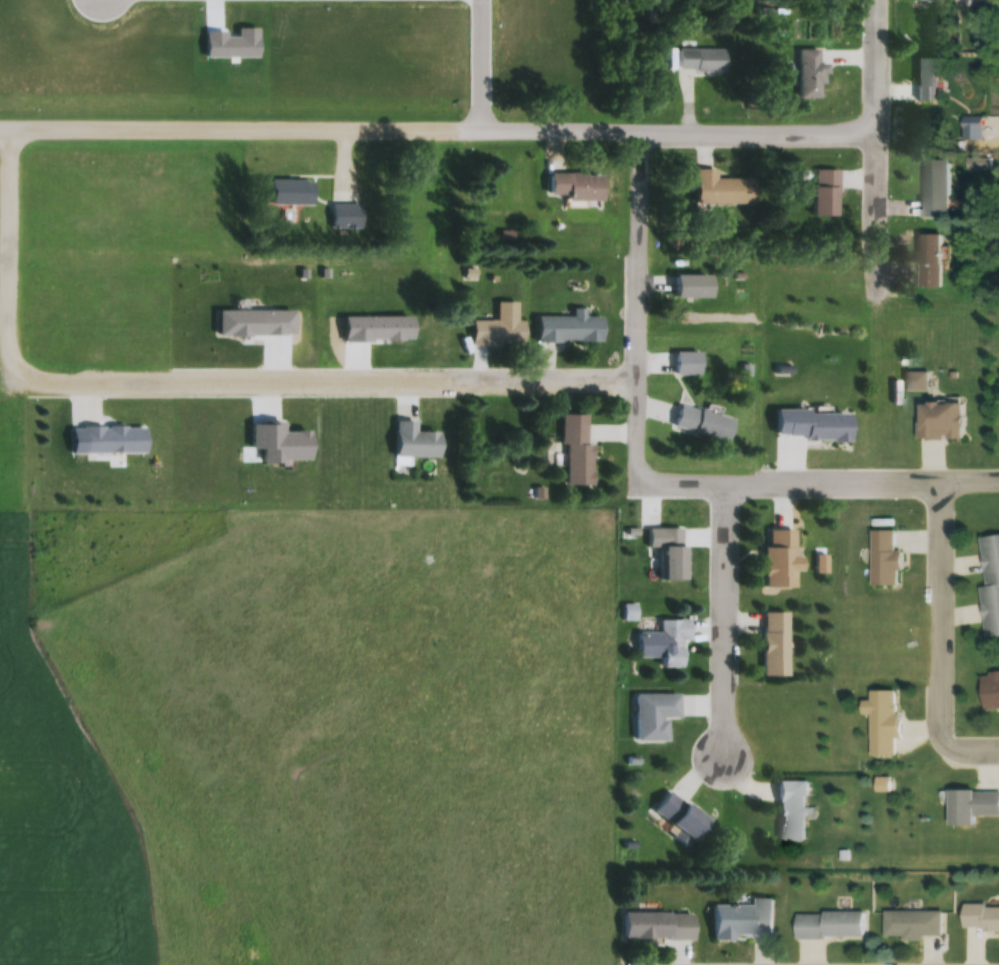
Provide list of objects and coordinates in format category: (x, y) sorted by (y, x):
building: (928, 1)
building: (699, 60)
road: (482, 63)
building: (807, 71)
building: (924, 79)
road: (439, 125)
road: (879, 150)
building: (569, 186)
building: (932, 188)
building: (719, 189)
building: (286, 192)
building: (822, 192)
building: (344, 214)
building: (927, 260)
building: (687, 285)
road: (640, 301)
building: (565, 328)
building: (496, 332)
building: (685, 363)
road: (200, 375)
building: (937, 420)
building: (701, 424)
building: (808, 424)
building: (111, 440)
building: (412, 442)
building: (576, 452)
road: (818, 477)
building: (672, 552)
building: (884, 559)
building: (778, 560)
building: (990, 585)
road: (945, 605)
road: (731, 615)
building: (669, 642)
building: (772, 644)
building: (990, 693)
building: (650, 715)
building: (882, 722)
road: (973, 740)
building: (971, 806)
building: (790, 811)
crop: (53, 816)
building: (674, 817)
building: (979, 918)
building: (741, 920)
building: (912, 924)
building: (828, 925)
building: (653, 926)

